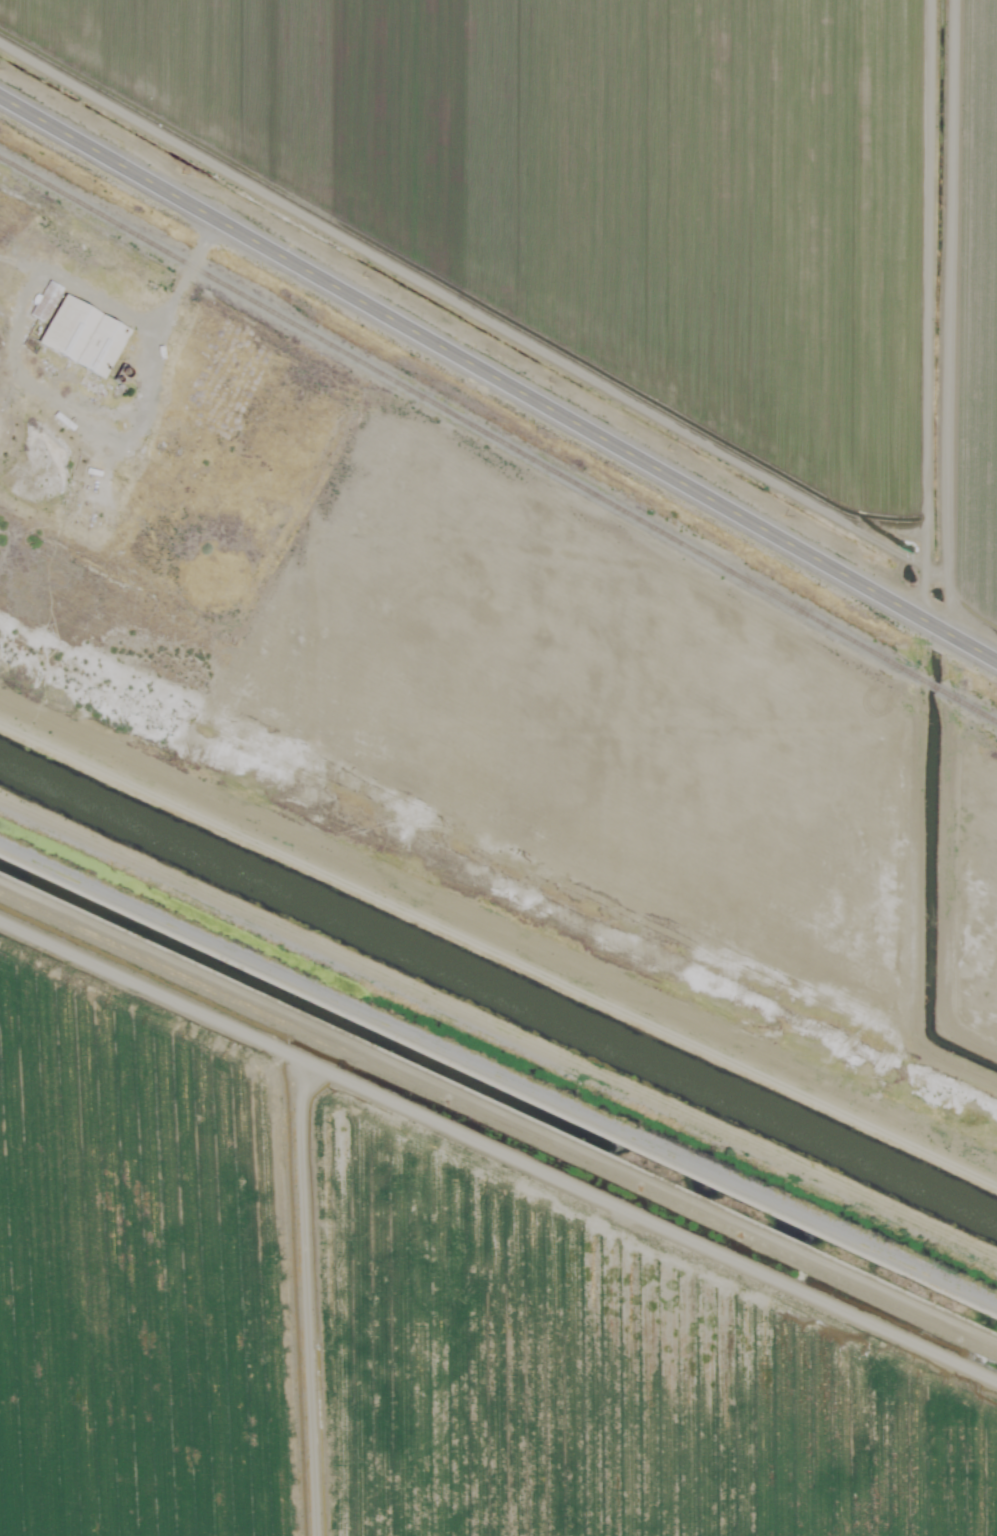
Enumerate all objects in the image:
crop: (607, 211)
building: (45, 300)
crop: (980, 330)
building: (84, 335)
road: (498, 378)
road: (61, 399)
railway: (498, 439)
road: (498, 896)
road: (491, 1089)
road: (351, 1291)
crop: (395, 1329)

